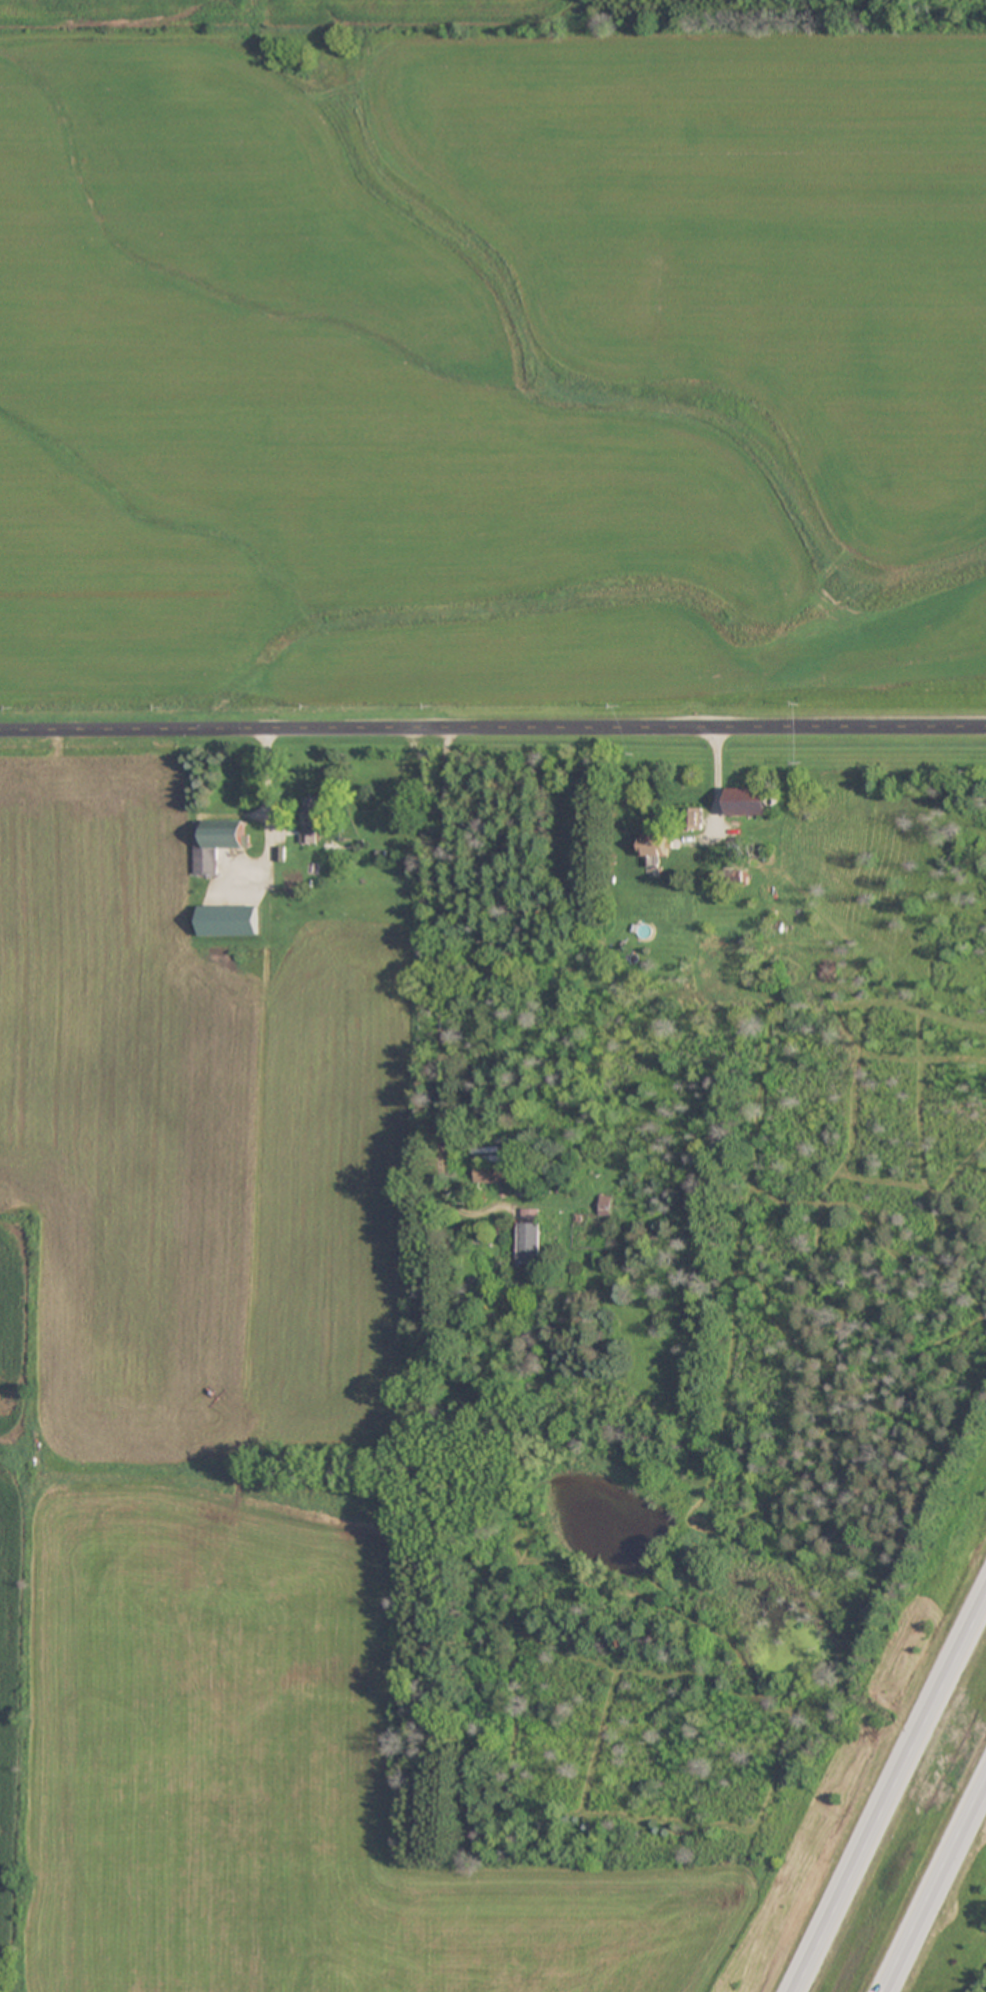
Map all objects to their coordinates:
road: (492, 724)
building: (751, 799)
building: (319, 815)
building: (217, 843)
building: (657, 843)
road: (429, 972)
building: (491, 1171)
building: (529, 1235)
road: (889, 1794)
road: (936, 1891)

